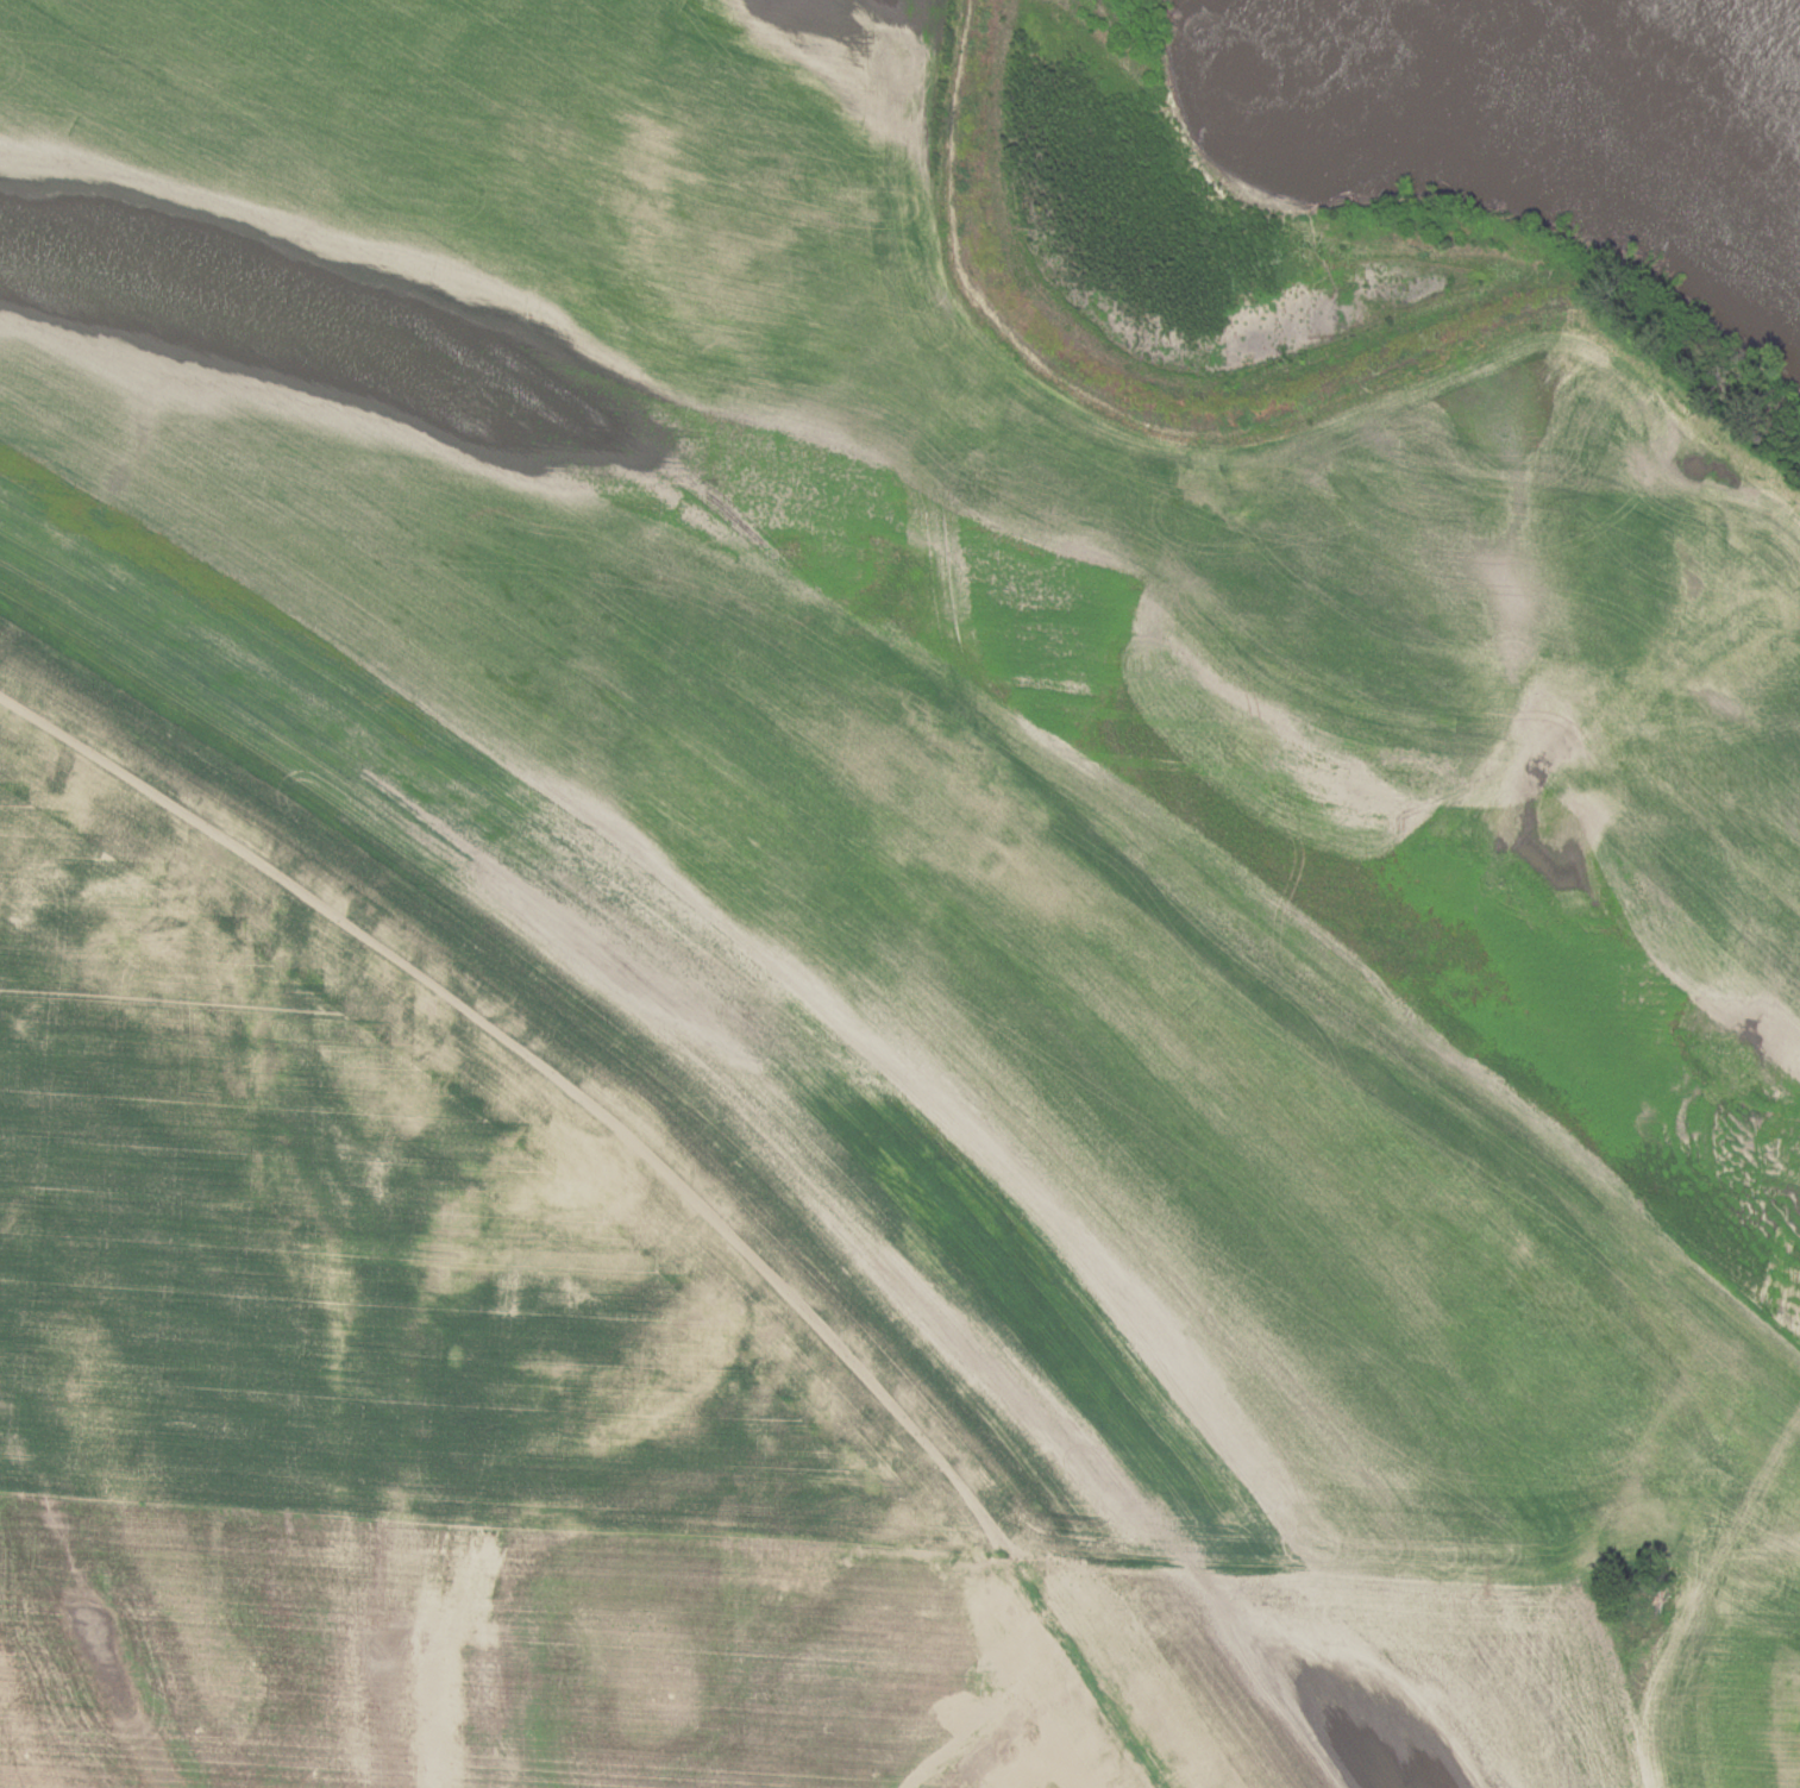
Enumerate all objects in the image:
crop: (992, 726)
crop: (377, 1221)
crop: (1329, 1658)
crop: (519, 1661)

